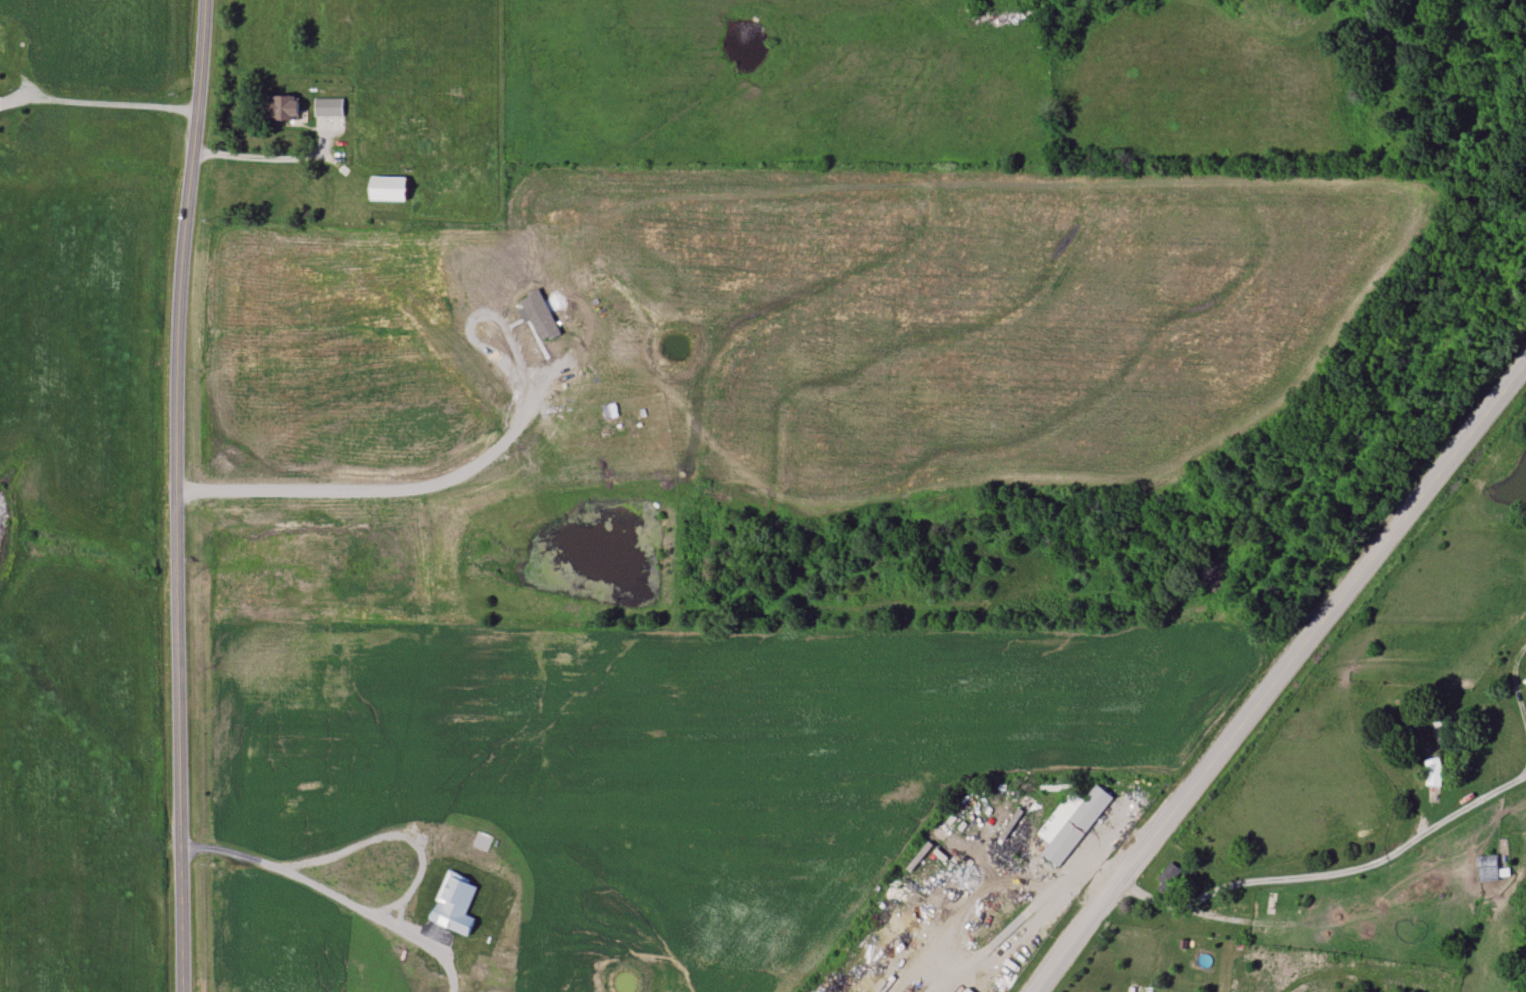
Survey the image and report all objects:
building: (1, 37)
road: (118, 104)
building: (328, 107)
building: (284, 108)
building: (20, 119)
road: (265, 158)
building: (388, 188)
road: (175, 495)
road: (377, 495)
road: (1280, 677)
building: (1433, 766)
road: (1455, 815)
building: (1072, 823)
building: (1487, 868)
road: (306, 882)
road: (1250, 882)
road: (1025, 885)

